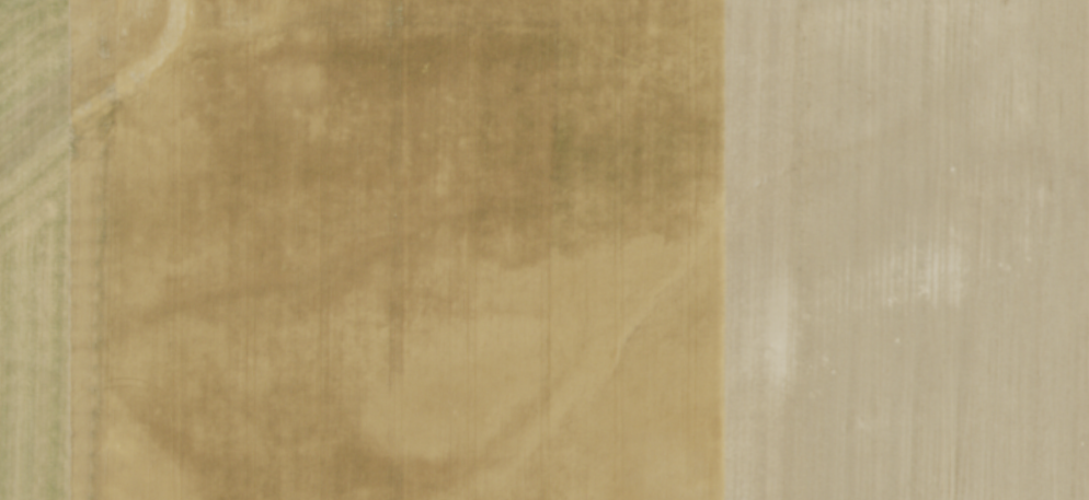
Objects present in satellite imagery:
crop: (544, 249)

